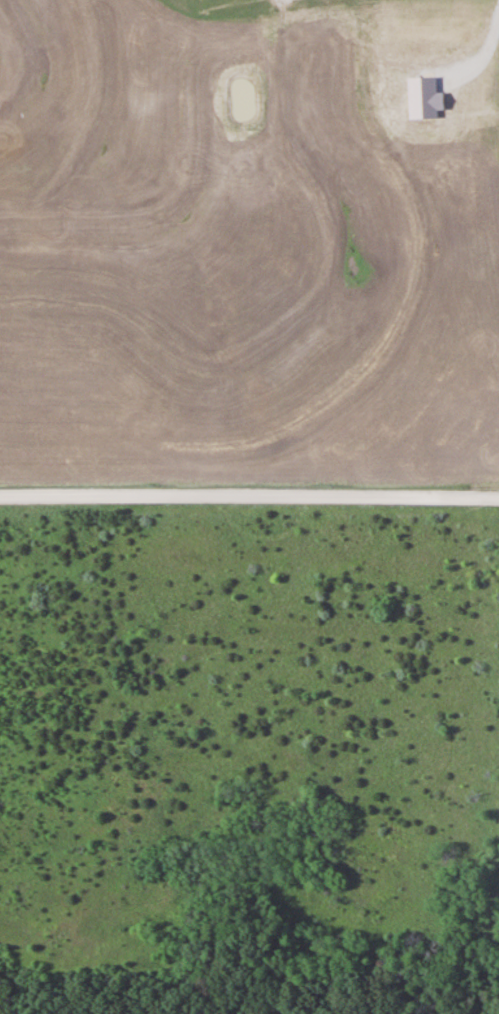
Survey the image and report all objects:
road: (249, 499)

